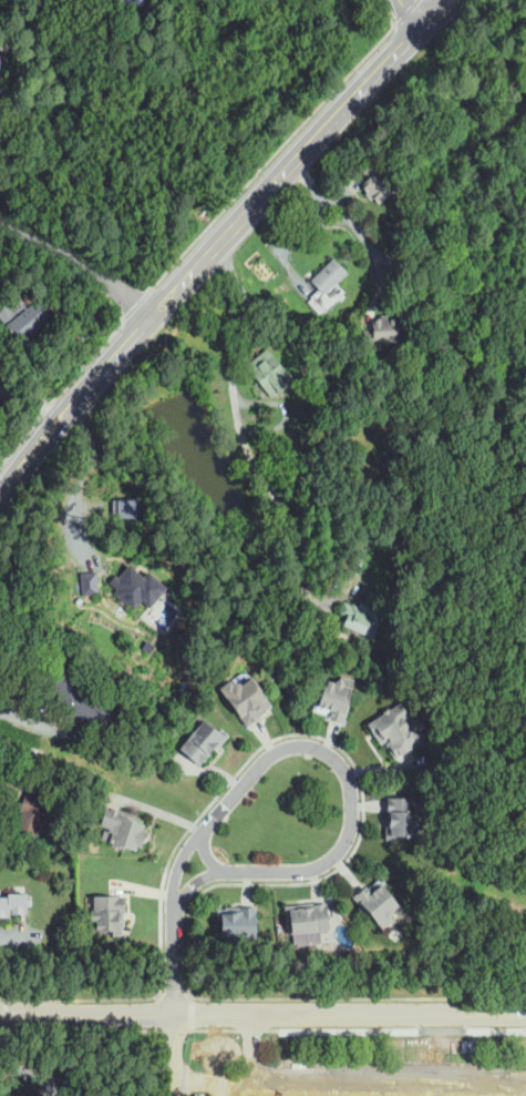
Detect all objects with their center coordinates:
road: (388, 11)
road: (411, 13)
road: (437, 13)
road: (368, 83)
road: (274, 150)
building: (375, 181)
road: (331, 219)
road: (357, 227)
road: (231, 230)
road: (299, 233)
road: (80, 260)
building: (327, 285)
building: (345, 315)
building: (27, 317)
building: (384, 333)
building: (73, 363)
building: (268, 372)
road: (99, 375)
road: (65, 382)
building: (282, 415)
road: (244, 447)
road: (23, 463)
road: (80, 475)
building: (123, 511)
building: (89, 582)
building: (130, 588)
building: (360, 618)
building: (146, 645)
building: (334, 697)
building: (247, 699)
building: (79, 700)
building: (127, 700)
road: (23, 718)
building: (396, 729)
building: (202, 741)
building: (4, 758)
road: (234, 794)
road: (363, 806)
building: (35, 809)
building: (402, 818)
building: (122, 828)
road: (208, 855)
road: (296, 870)
building: (14, 904)
building: (379, 904)
building: (109, 913)
building: (306, 919)
building: (237, 921)
road: (16, 935)
road: (174, 961)
road: (174, 994)
road: (192, 1011)
road: (311, 1014)
road: (49, 1015)
road: (86, 1028)
road: (350, 1028)
road: (173, 1055)
road: (215, 1067)

